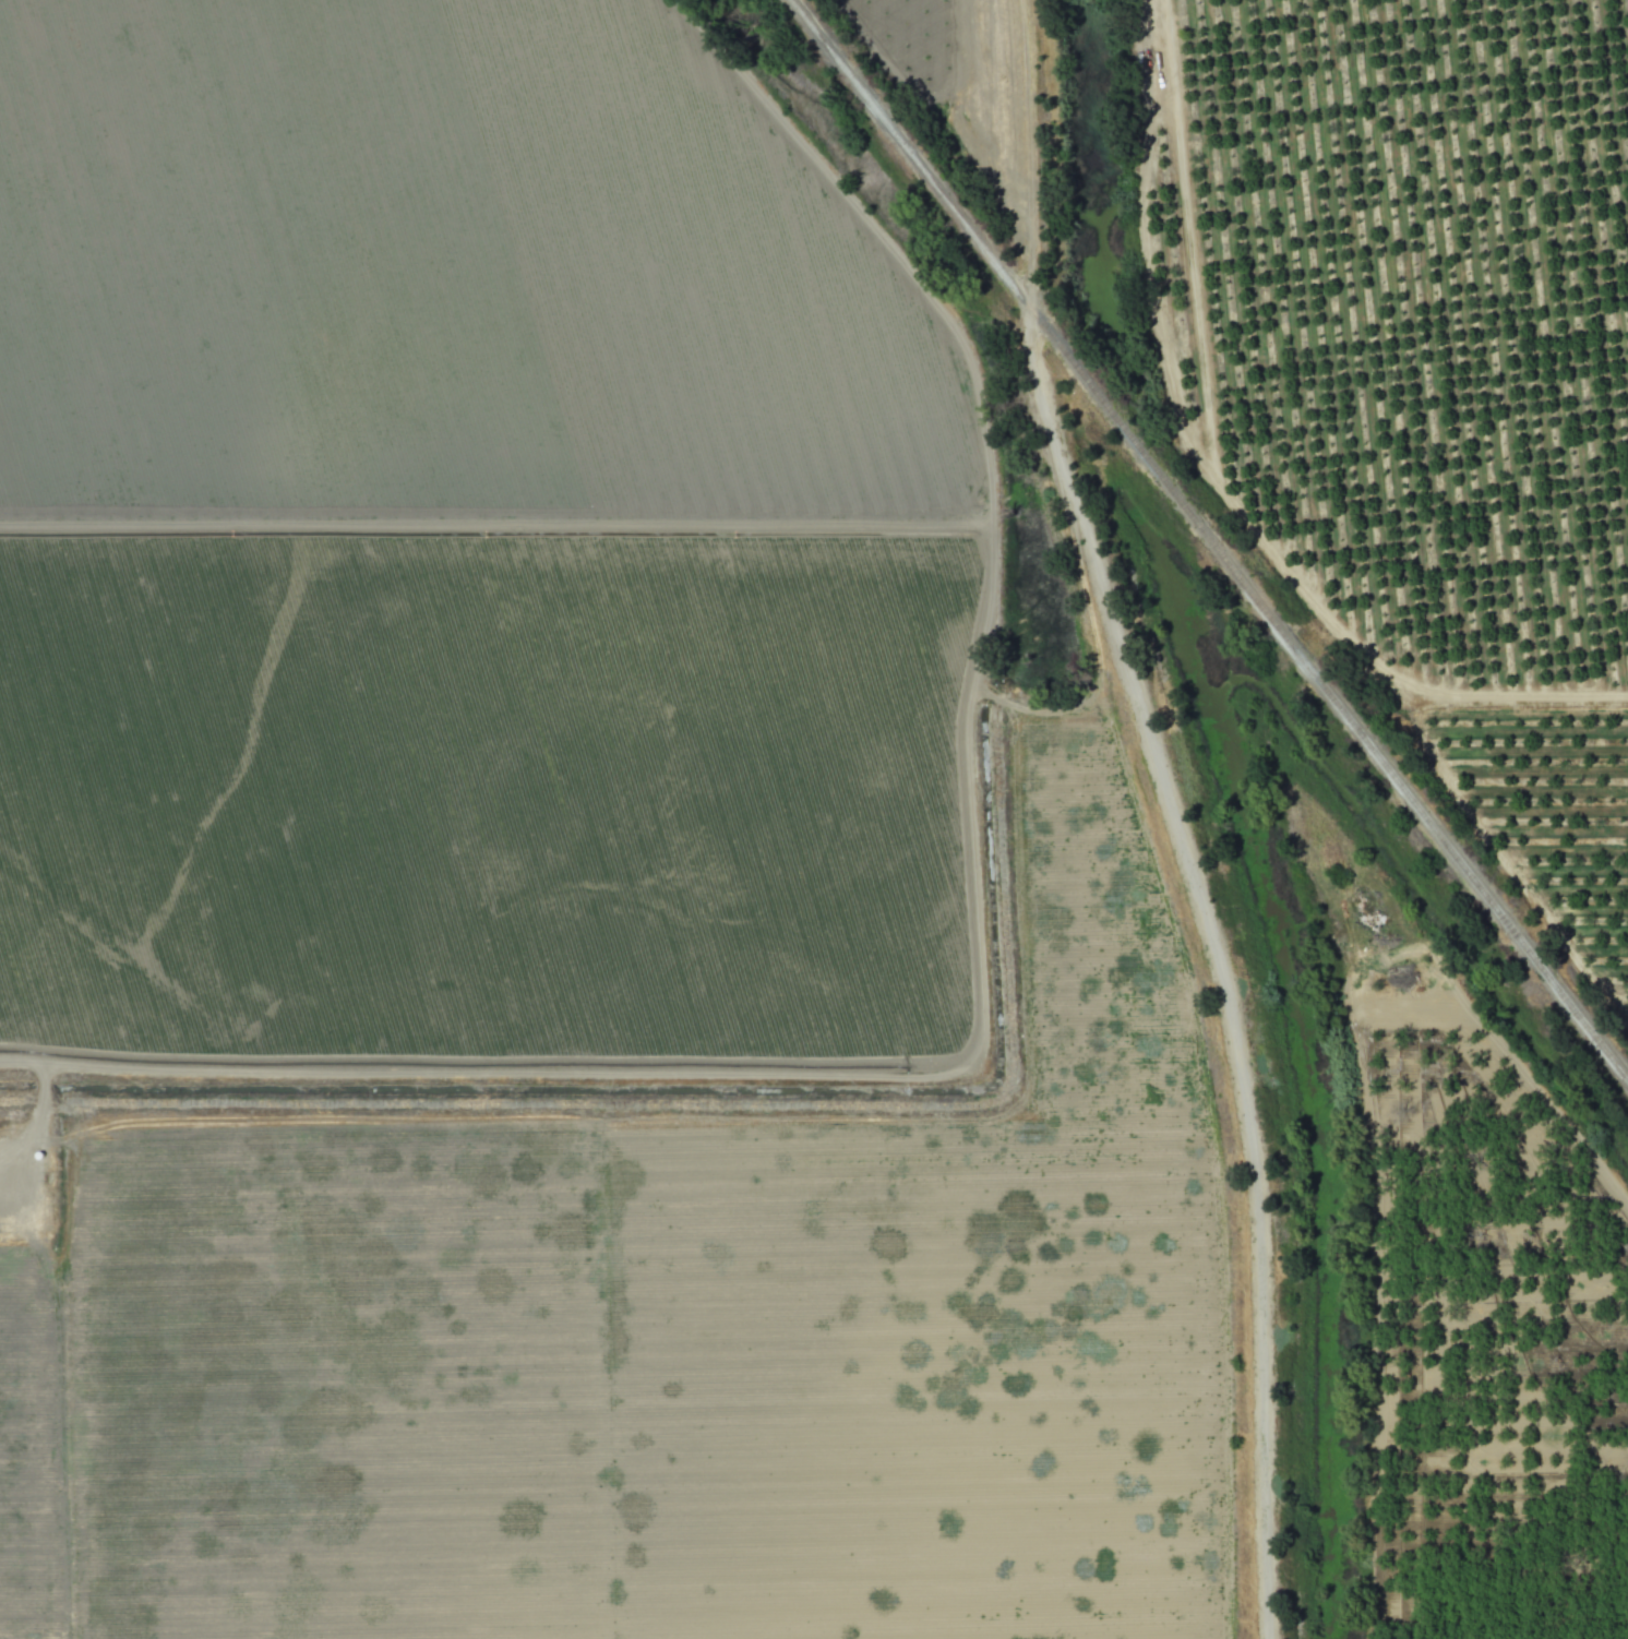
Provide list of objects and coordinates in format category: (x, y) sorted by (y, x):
railway: (1210, 537)
crop: (1429, 713)
crop: (572, 850)
road: (1224, 986)

